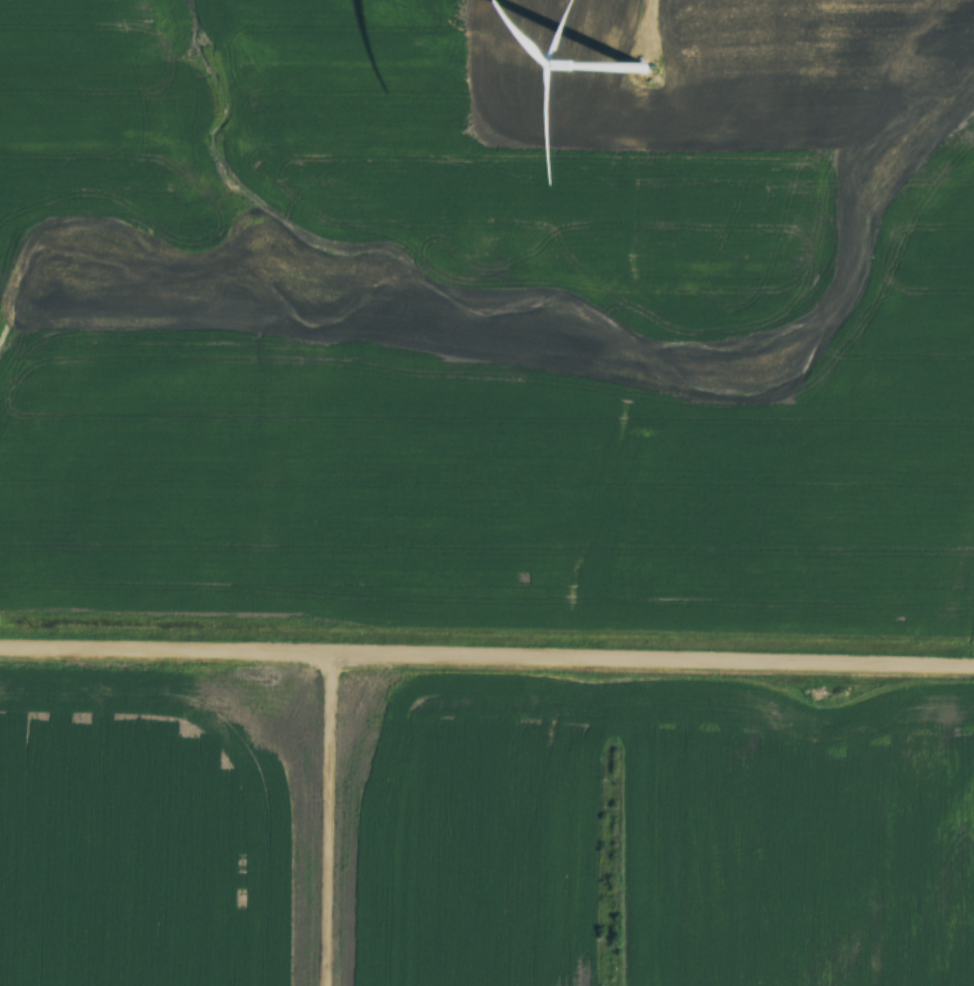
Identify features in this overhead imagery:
wind turbine: (639, 75)
road: (487, 663)

